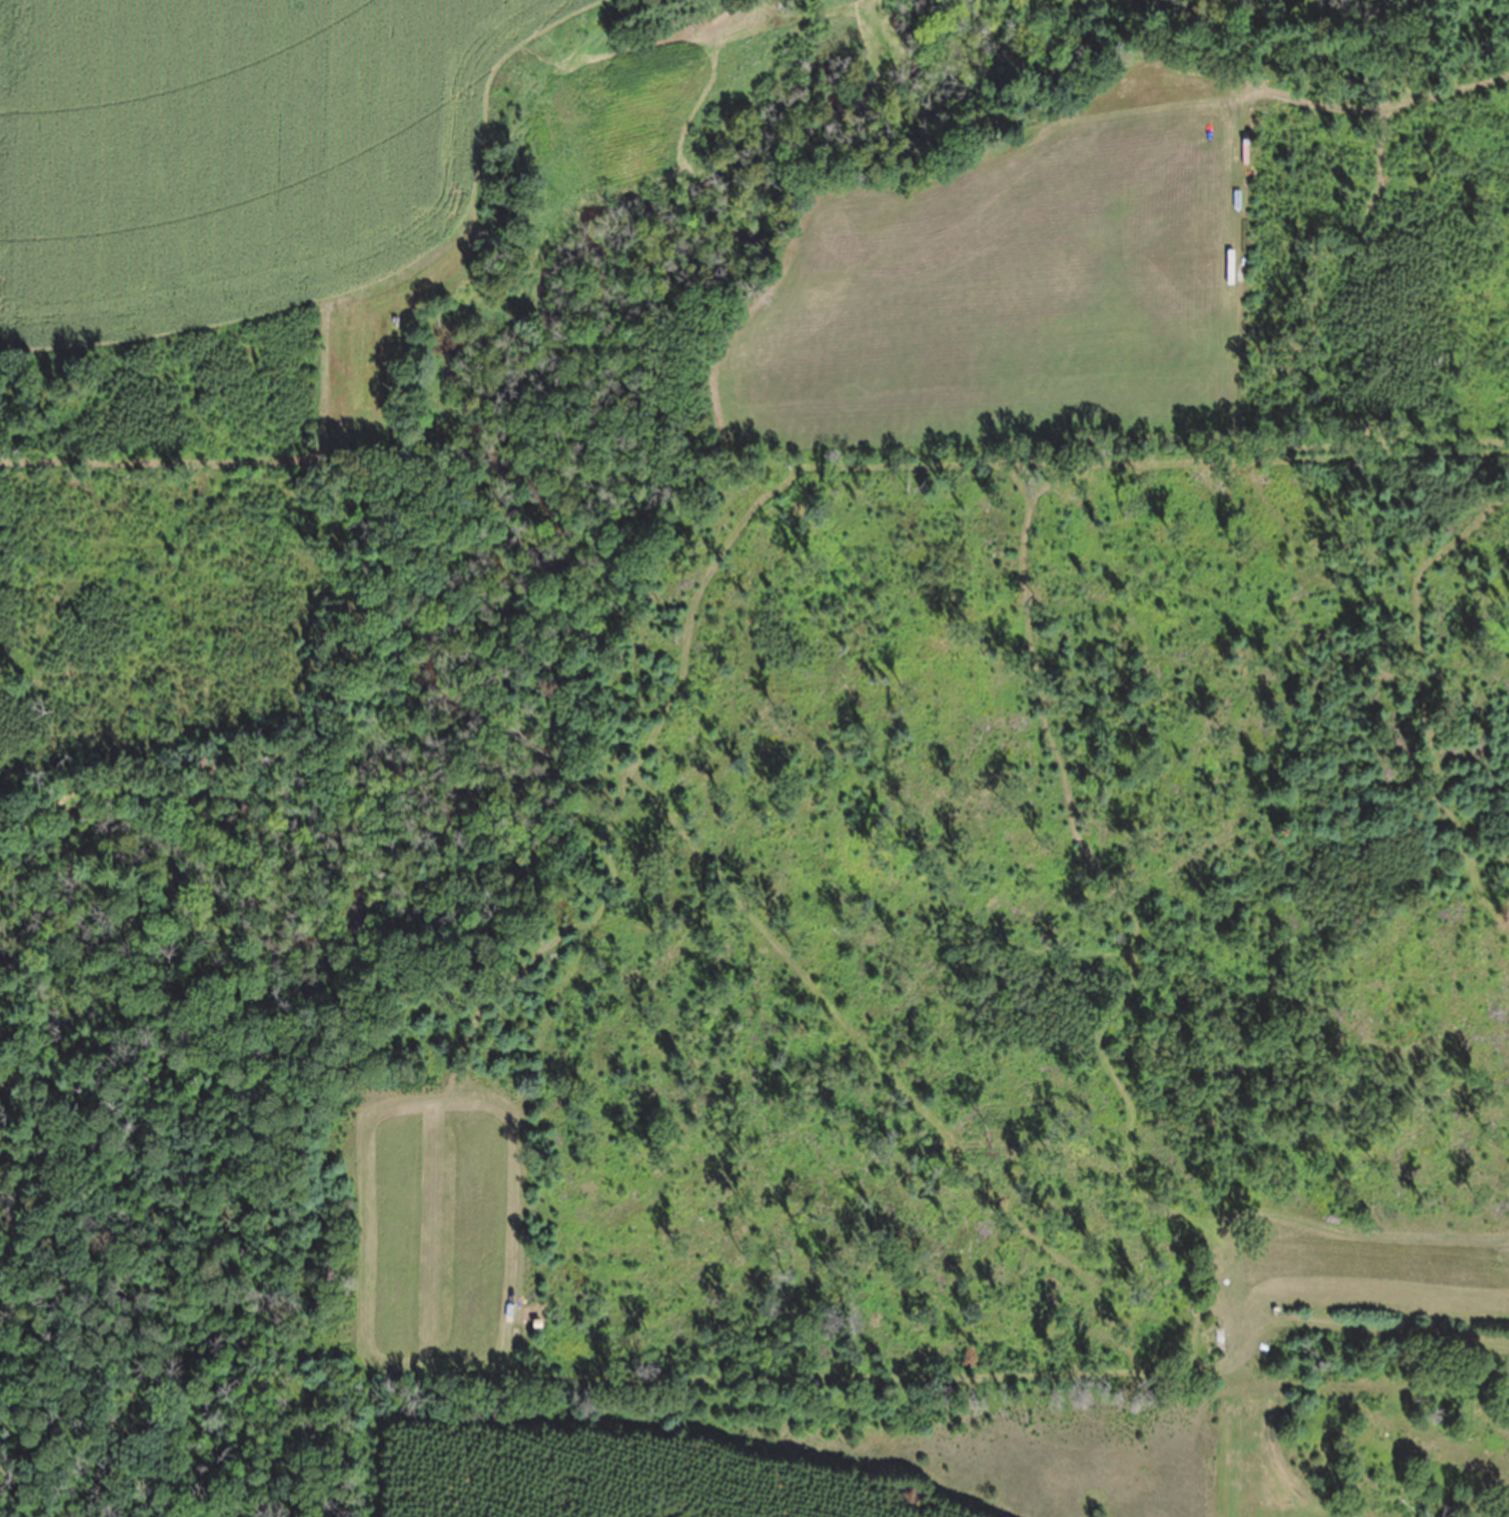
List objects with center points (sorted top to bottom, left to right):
building: (1219, 1352)

